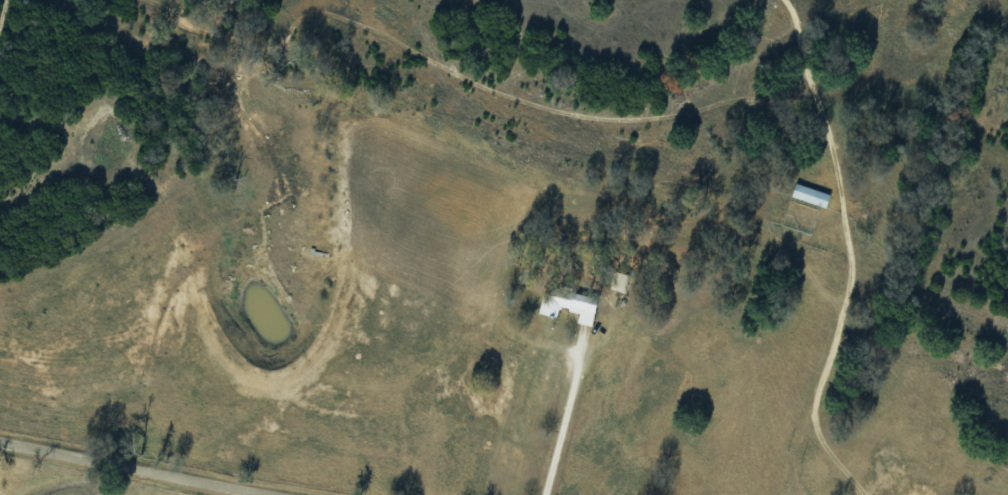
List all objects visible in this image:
building: (808, 194)
road: (838, 275)
building: (617, 281)
building: (566, 304)
road: (56, 482)

